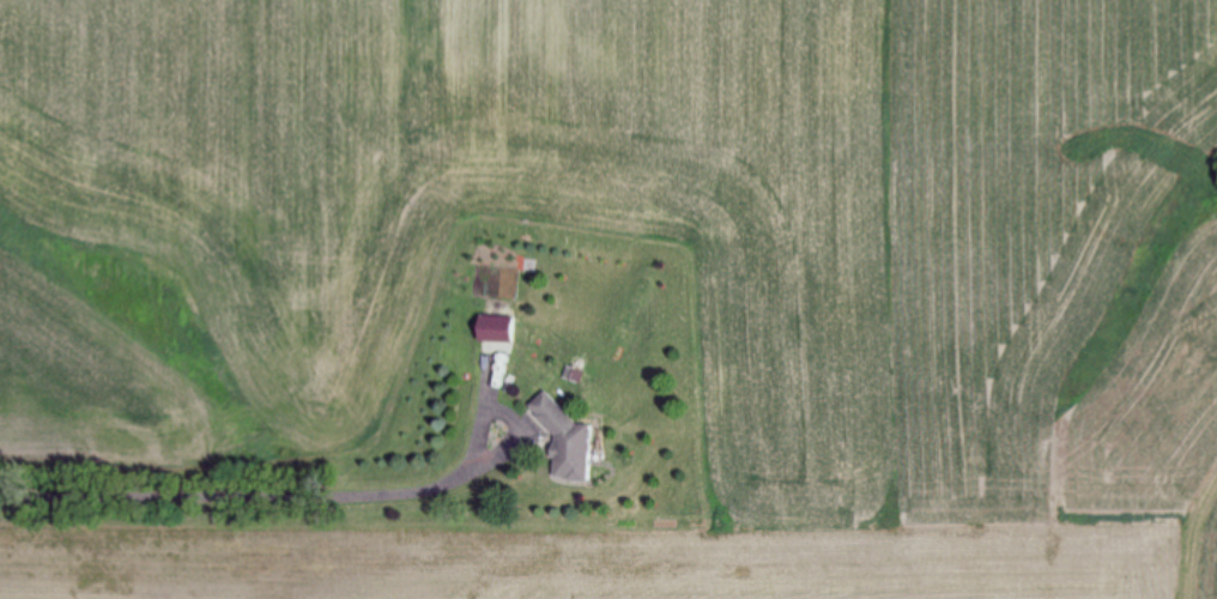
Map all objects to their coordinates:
building: (504, 329)
road: (509, 410)
building: (576, 440)
road: (240, 495)

